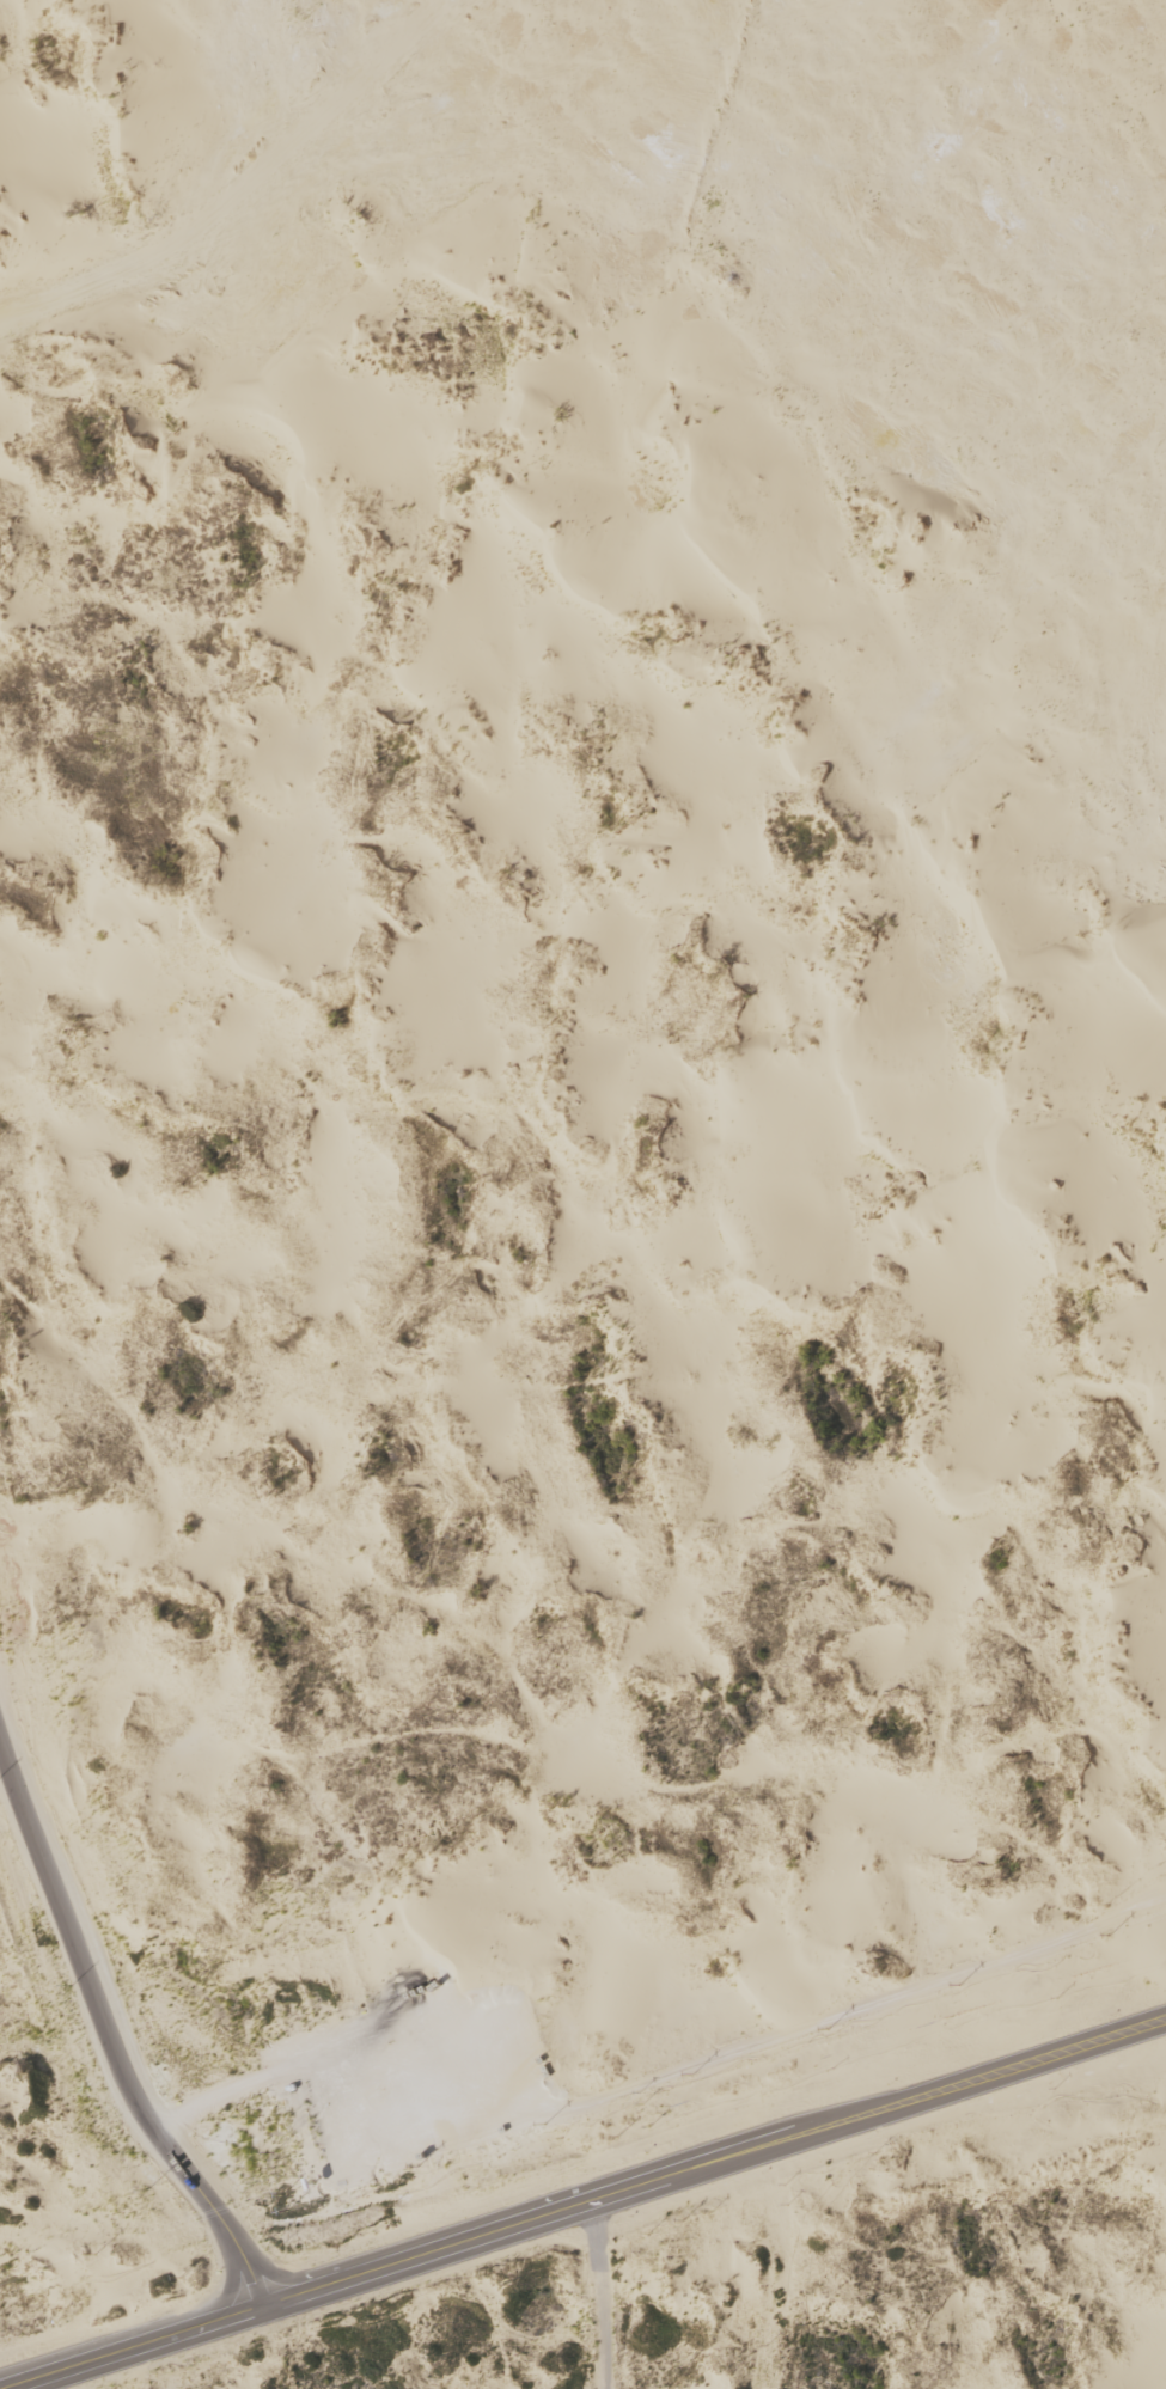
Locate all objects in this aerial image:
road: (582, 2200)

